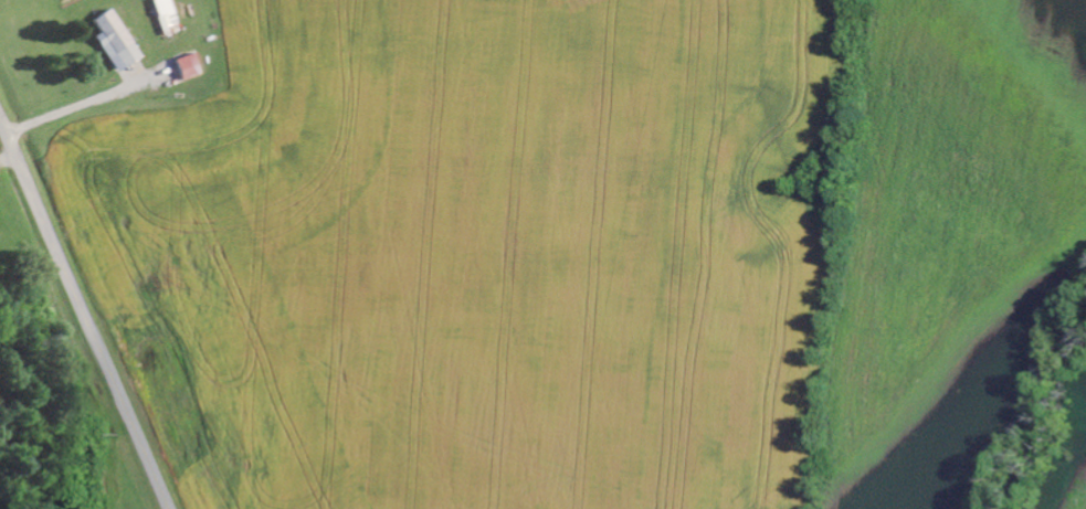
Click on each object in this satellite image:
building: (164, 18)
building: (113, 42)
building: (187, 68)
road: (83, 316)

